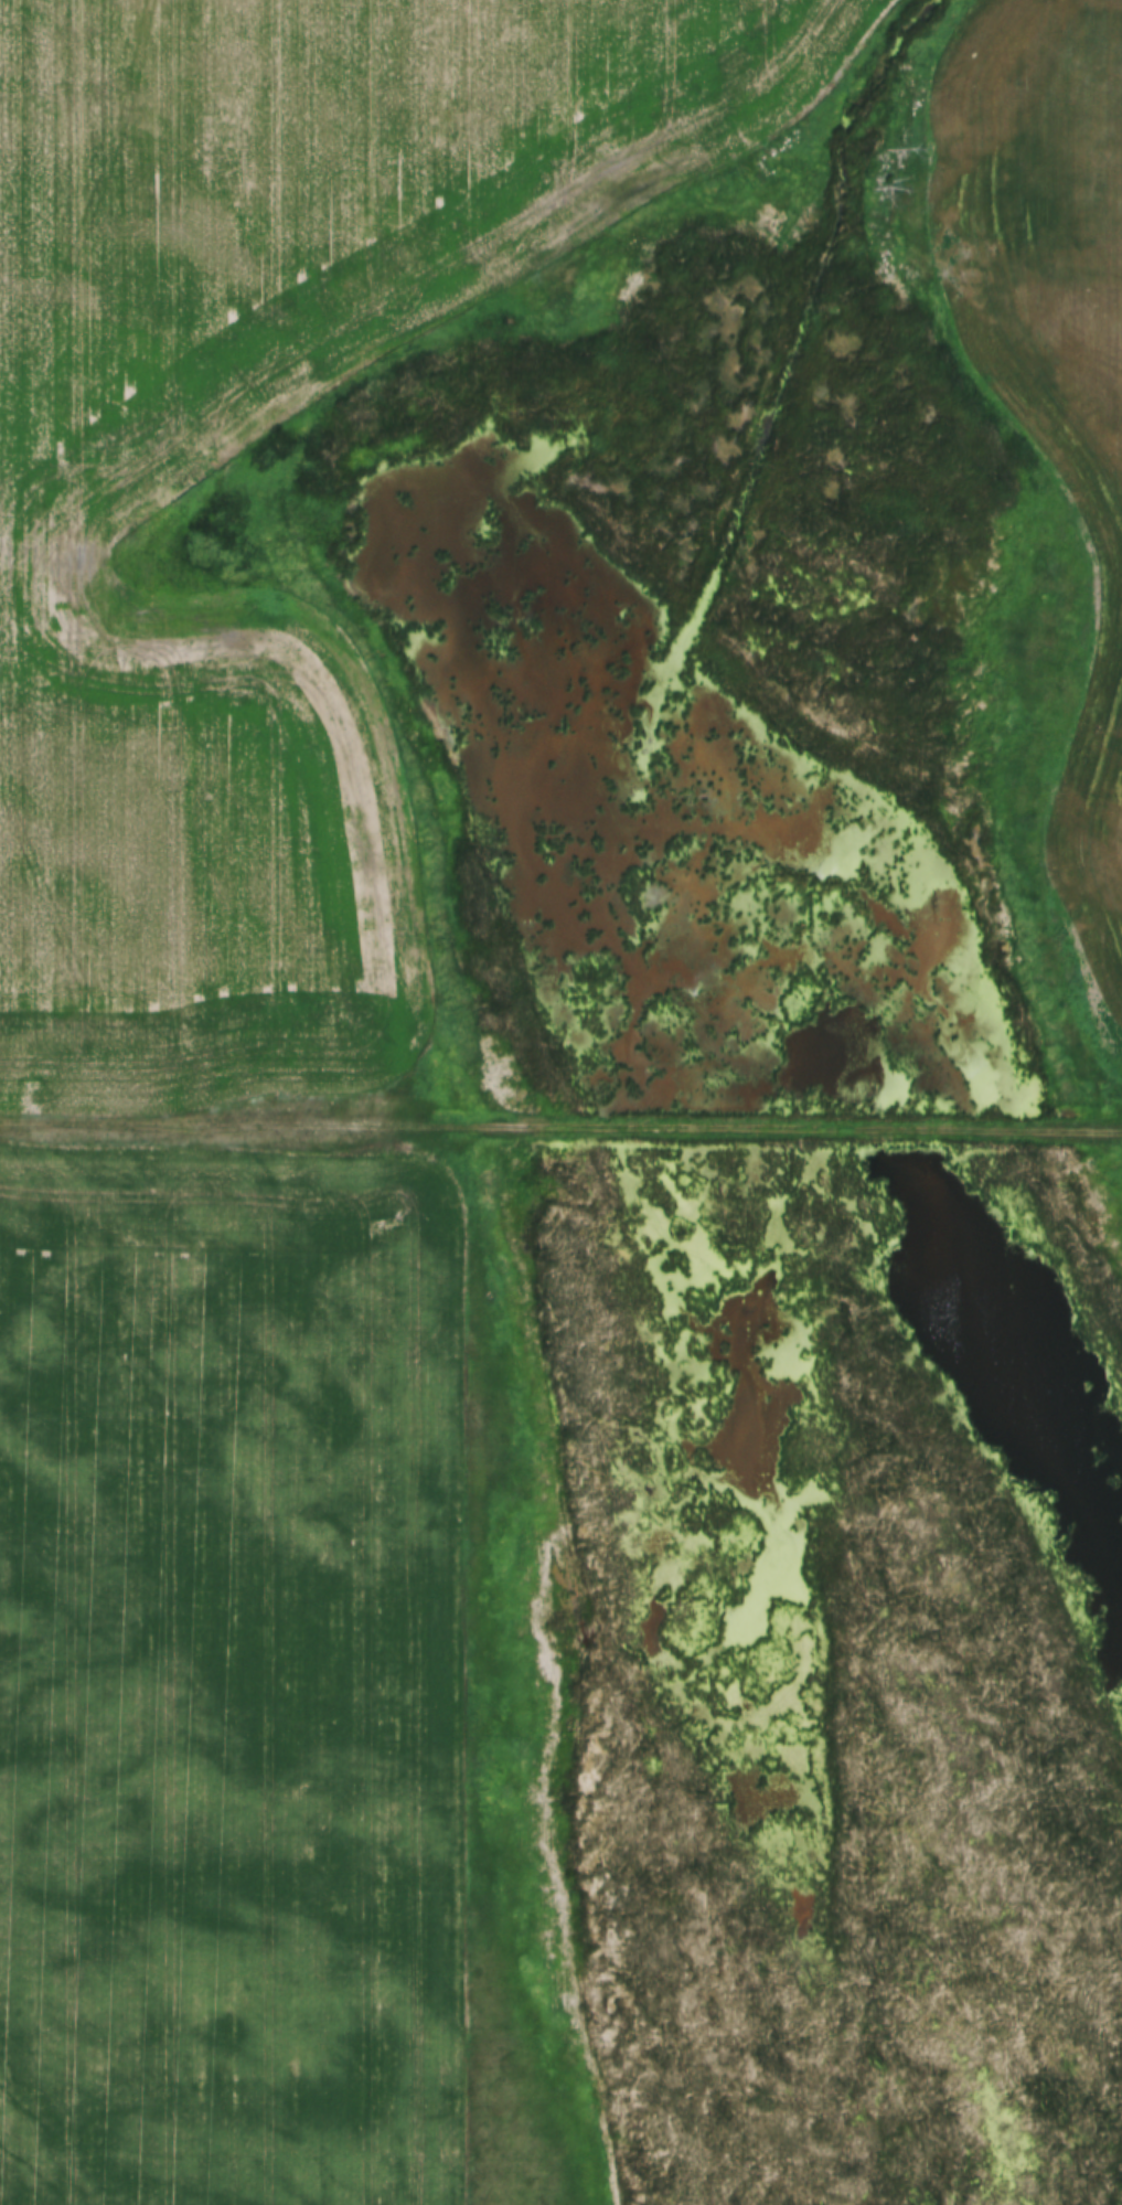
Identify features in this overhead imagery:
road: (560, 1123)

